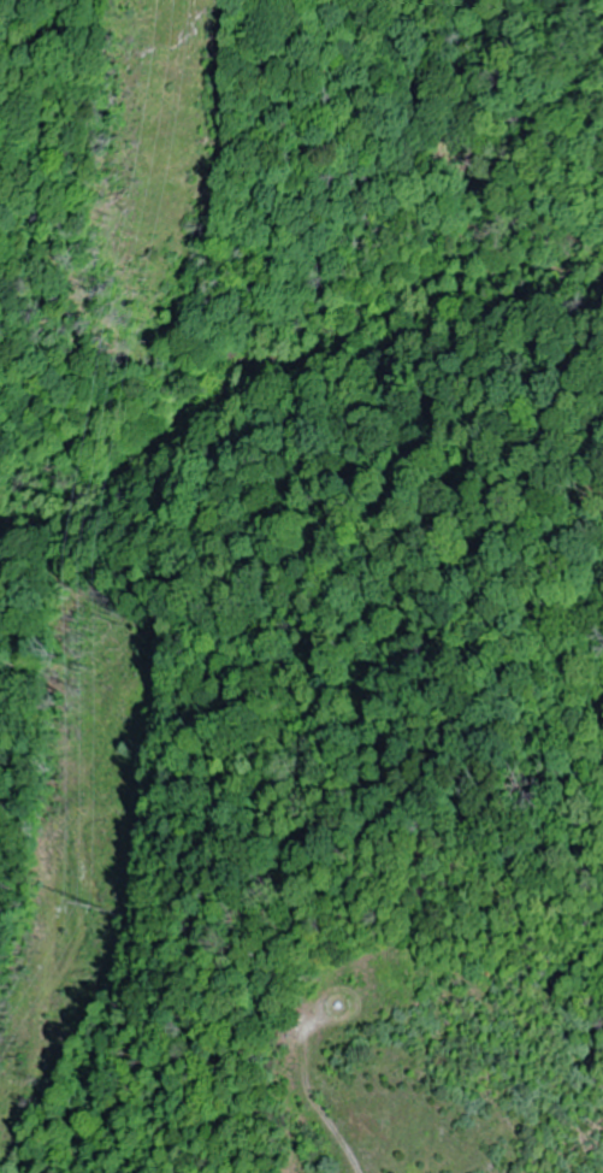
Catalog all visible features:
power tower: (95, 907)

